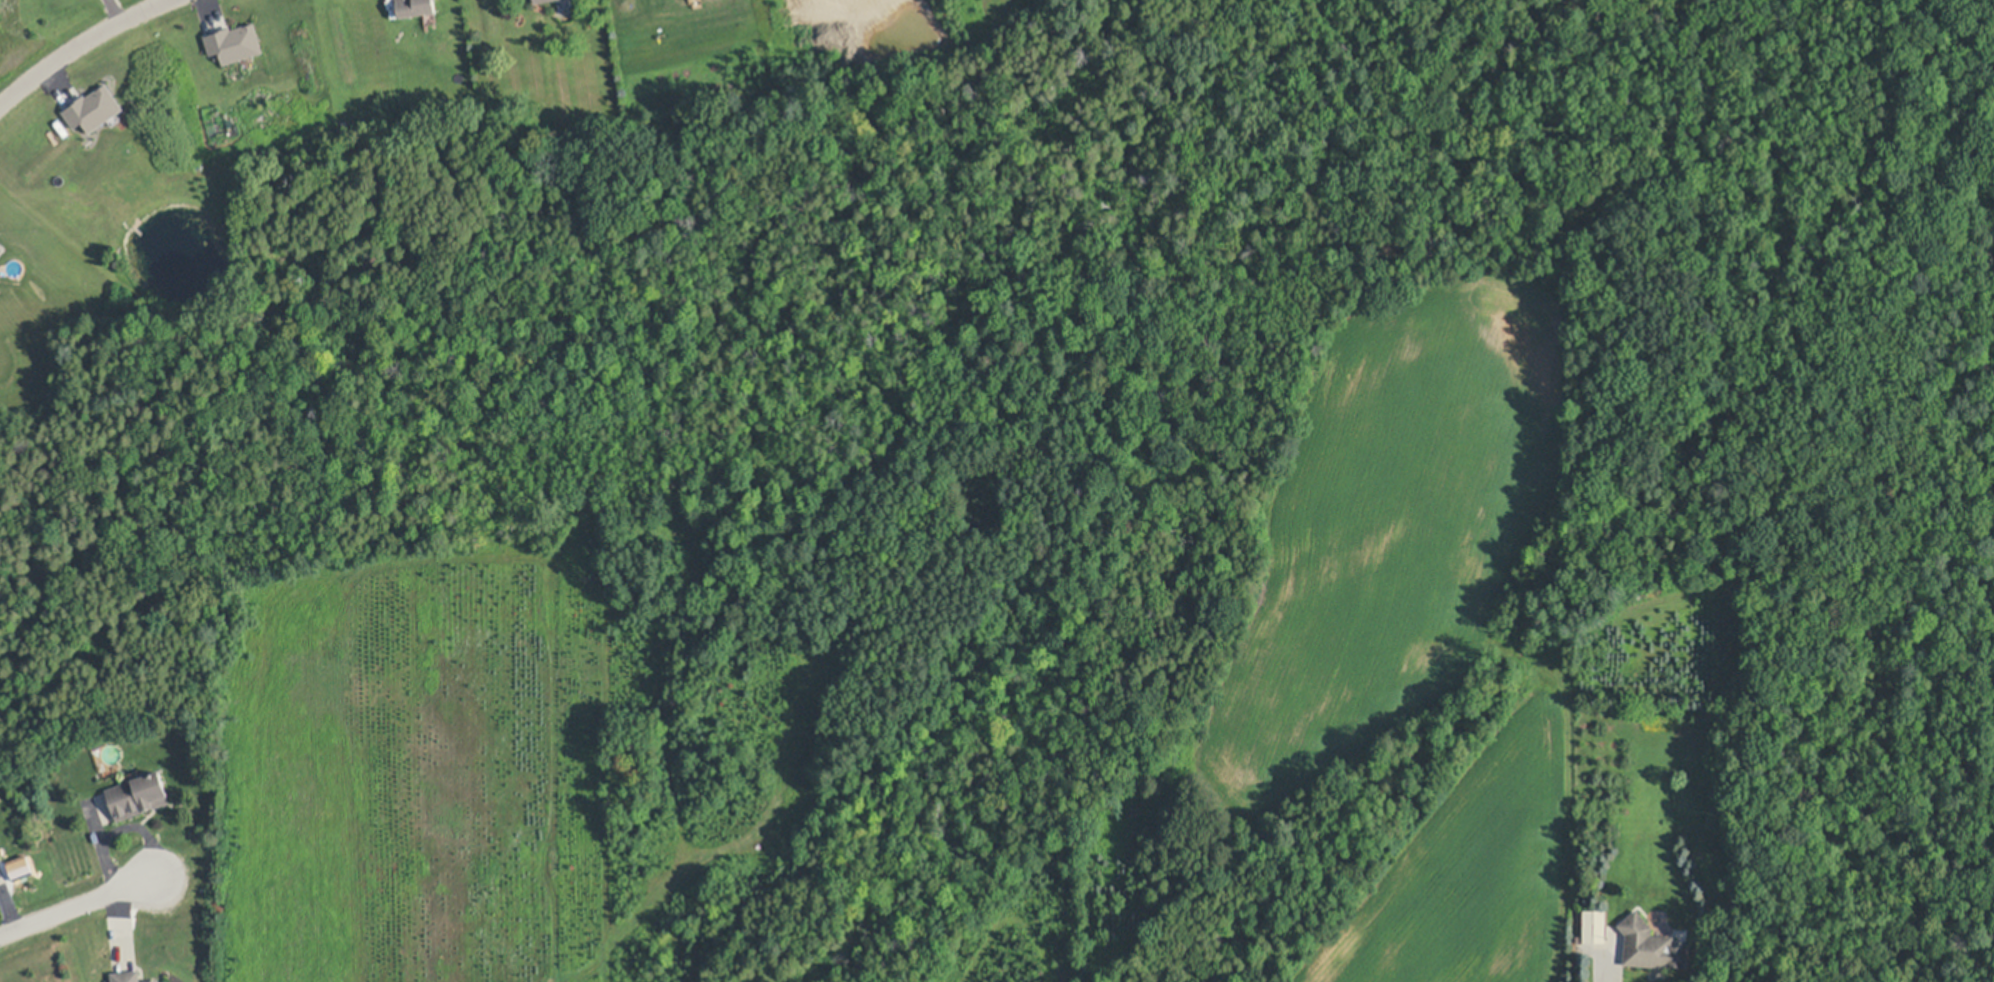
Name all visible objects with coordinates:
building: (540, 1)
building: (415, 7)
building: (234, 42)
road: (78, 44)
building: (94, 108)
building: (138, 796)
building: (0, 859)
road: (77, 905)
building: (1593, 928)
building: (1650, 944)
building: (127, 976)
road: (1603, 977)
building: (153, 981)
building: (171, 981)

